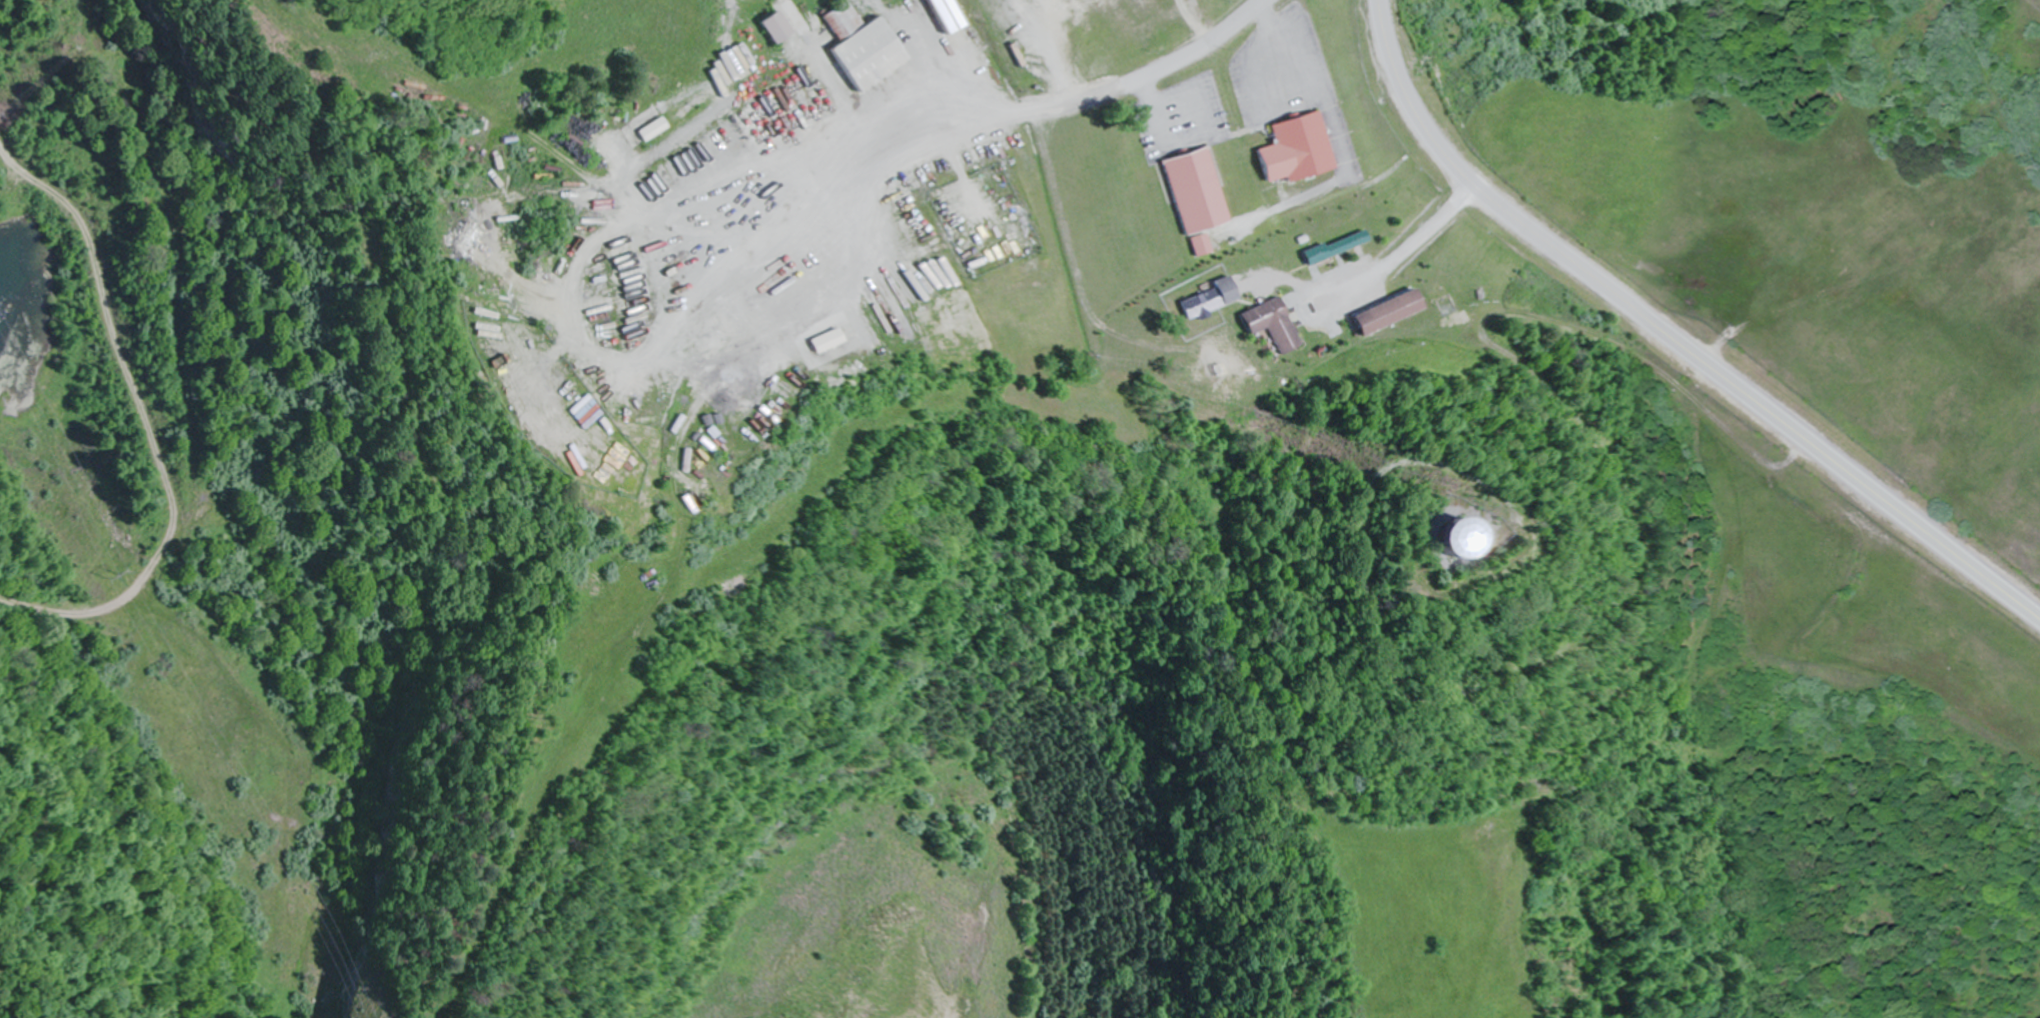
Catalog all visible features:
building: (936, 14)
building: (764, 25)
building: (852, 45)
building: (774, 95)
building: (647, 128)
building: (1289, 148)
building: (1192, 188)
building: (1198, 243)
building: (1331, 246)
quarry: (190, 285)
building: (1207, 298)
building: (1381, 311)
building: (1267, 323)
road: (1672, 334)
building: (820, 340)
building: (574, 415)
building: (1438, 537)
power tower: (117, 567)

